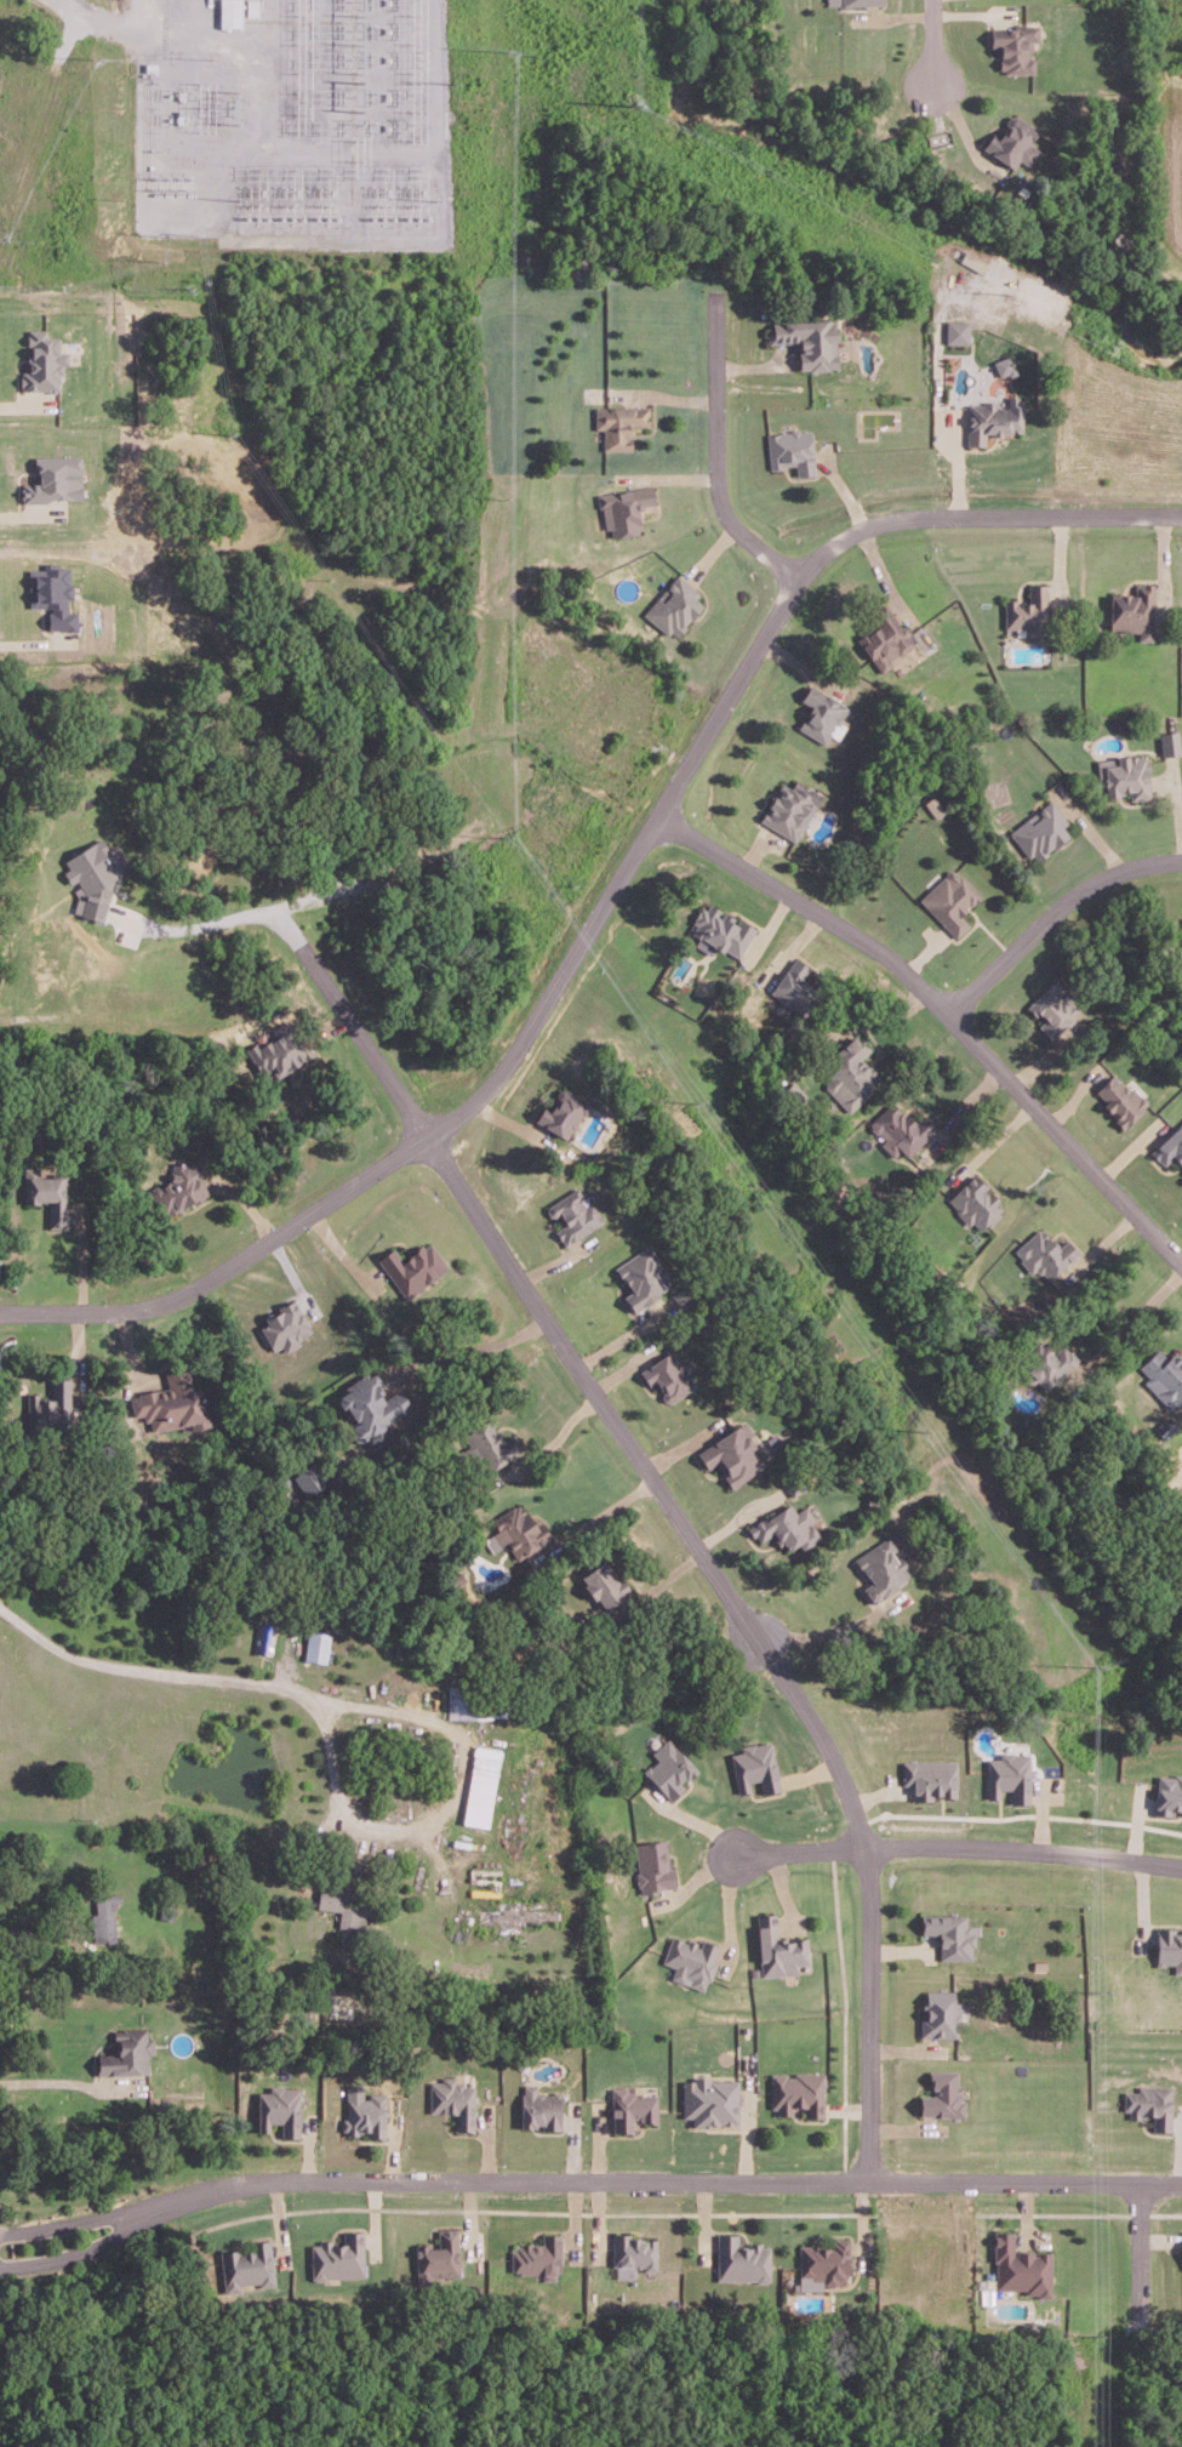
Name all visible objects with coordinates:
building: (852, 1)
building: (251, 7)
building: (229, 12)
road: (932, 41)
building: (1013, 46)
power tower: (512, 51)
power tower: (635, 105)
power substation: (296, 126)
building: (1012, 142)
power tower: (1010, 293)
building: (957, 324)
building: (809, 336)
building: (1004, 360)
building: (34, 370)
road: (23, 406)
building: (993, 412)
building: (618, 416)
building: (792, 444)
road: (720, 445)
building: (46, 483)
power tower: (508, 500)
building: (623, 502)
road: (30, 517)
building: (674, 599)
building: (46, 601)
building: (1028, 604)
building: (1134, 604)
building: (884, 631)
road: (35, 643)
building: (820, 706)
building: (1171, 743)
building: (1127, 776)
building: (789, 800)
building: (1041, 831)
power tower: (502, 837)
building: (91, 877)
road: (604, 895)
building: (953, 901)
road: (1052, 906)
road: (222, 917)
building: (724, 930)
building: (794, 986)
road: (944, 1000)
building: (1055, 1008)
building: (280, 1049)
building: (851, 1074)
building: (1118, 1097)
power tower: (693, 1100)
building: (565, 1112)
building: (898, 1129)
building: (1170, 1145)
building: (181, 1188)
building: (47, 1194)
building: (975, 1202)
building: (575, 1215)
building: (1044, 1253)
building: (415, 1267)
building: (644, 1278)
road: (1142, 1306)
building: (284, 1325)
road: (484, 1351)
power tower: (874, 1353)
building: (1046, 1362)
building: (668, 1376)
building: (1166, 1376)
building: (170, 1401)
building: (371, 1407)
building: (51, 1409)
building: (491, 1445)
building: (733, 1455)
building: (308, 1479)
road: (606, 1510)
building: (787, 1525)
road: (689, 1528)
building: (520, 1530)
building: (883, 1569)
building: (605, 1584)
road: (817, 1631)
building: (268, 1638)
building: (316, 1645)
power tower: (1095, 1660)
road: (153, 1667)
building: (461, 1702)
building: (754, 1767)
building: (669, 1768)
building: (1009, 1775)
building: (930, 1778)
building: (481, 1785)
building: (1167, 1793)
road: (446, 1804)
road: (1022, 1842)
road: (798, 1843)
building: (652, 1865)
building: (344, 1905)
building: (104, 1916)
road: (39, 1932)
building: (950, 1934)
building: (1169, 1947)
building: (778, 1949)
building: (691, 1960)
power tower: (1090, 1983)
building: (940, 2013)
building: (127, 2054)
road: (50, 2081)
building: (798, 2093)
building: (942, 2095)
building: (453, 2100)
building: (710, 2100)
building: (1150, 2104)
building: (539, 2107)
building: (630, 2107)
building: (280, 2109)
building: (365, 2115)
road: (655, 2174)
road: (65, 2215)
road: (1137, 2243)
road: (72, 2246)
building: (633, 2254)
building: (338, 2257)
building: (439, 2257)
building: (537, 2257)
building: (741, 2259)
building: (246, 2266)
building: (1021, 2266)
power tower: (1092, 2333)

